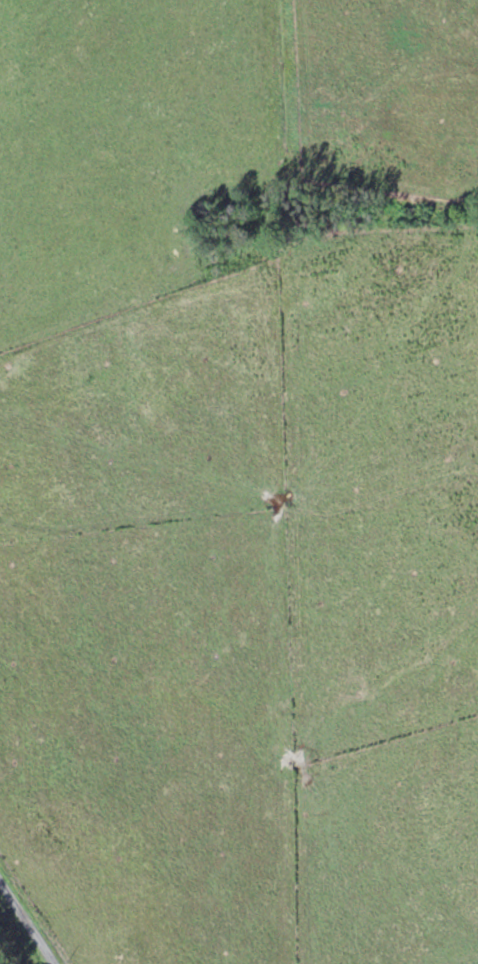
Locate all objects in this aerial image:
road: (27, 923)

